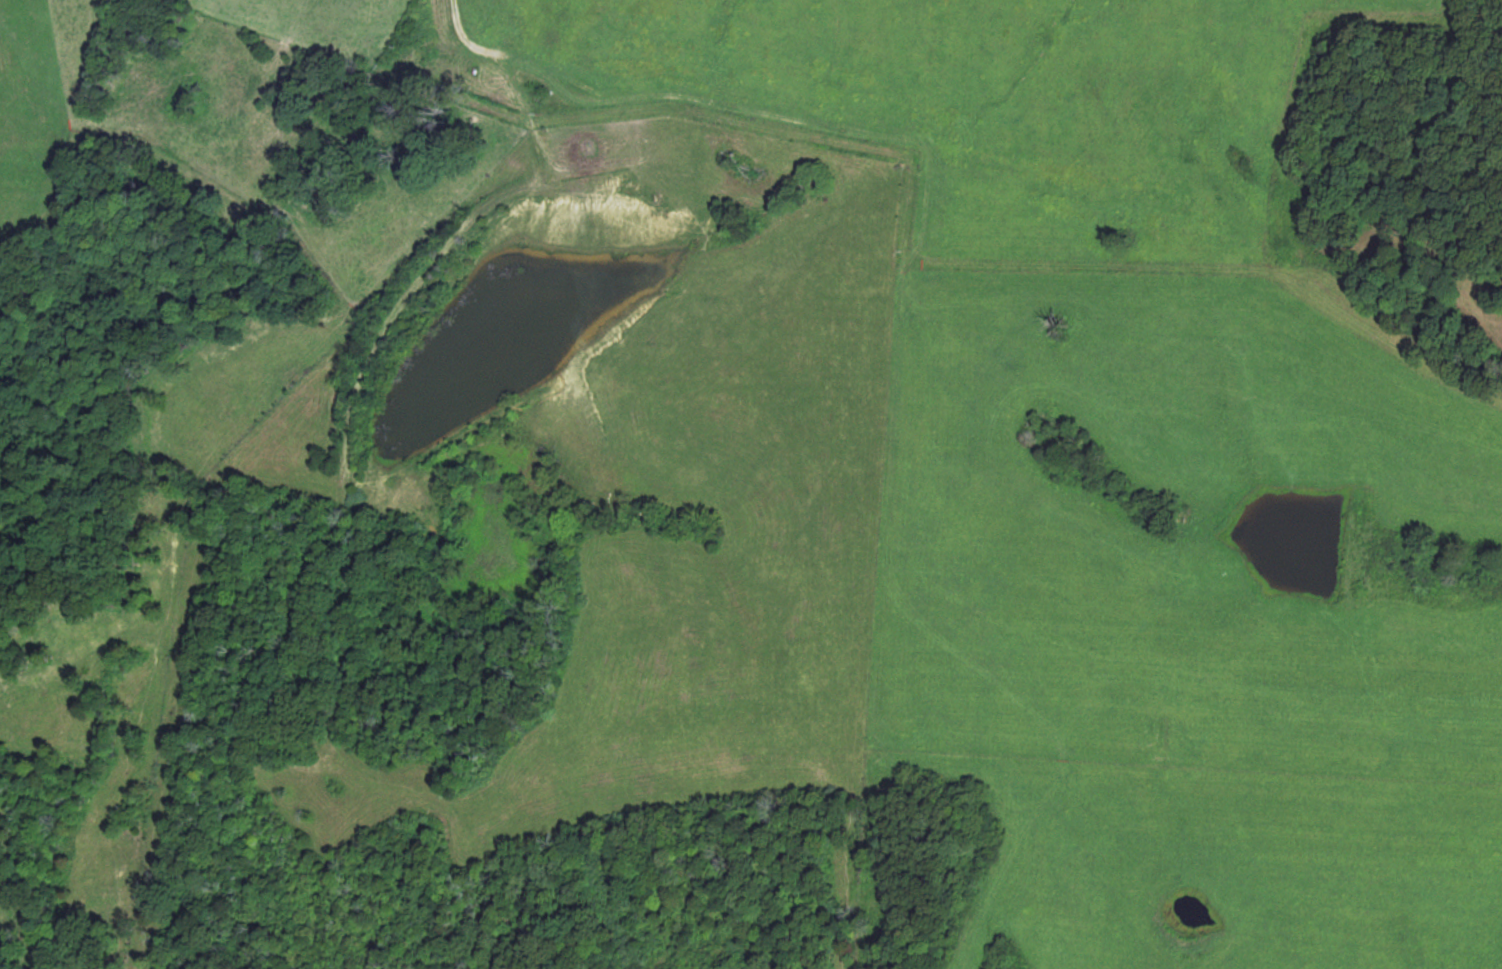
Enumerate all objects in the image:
building: (435, 54)

